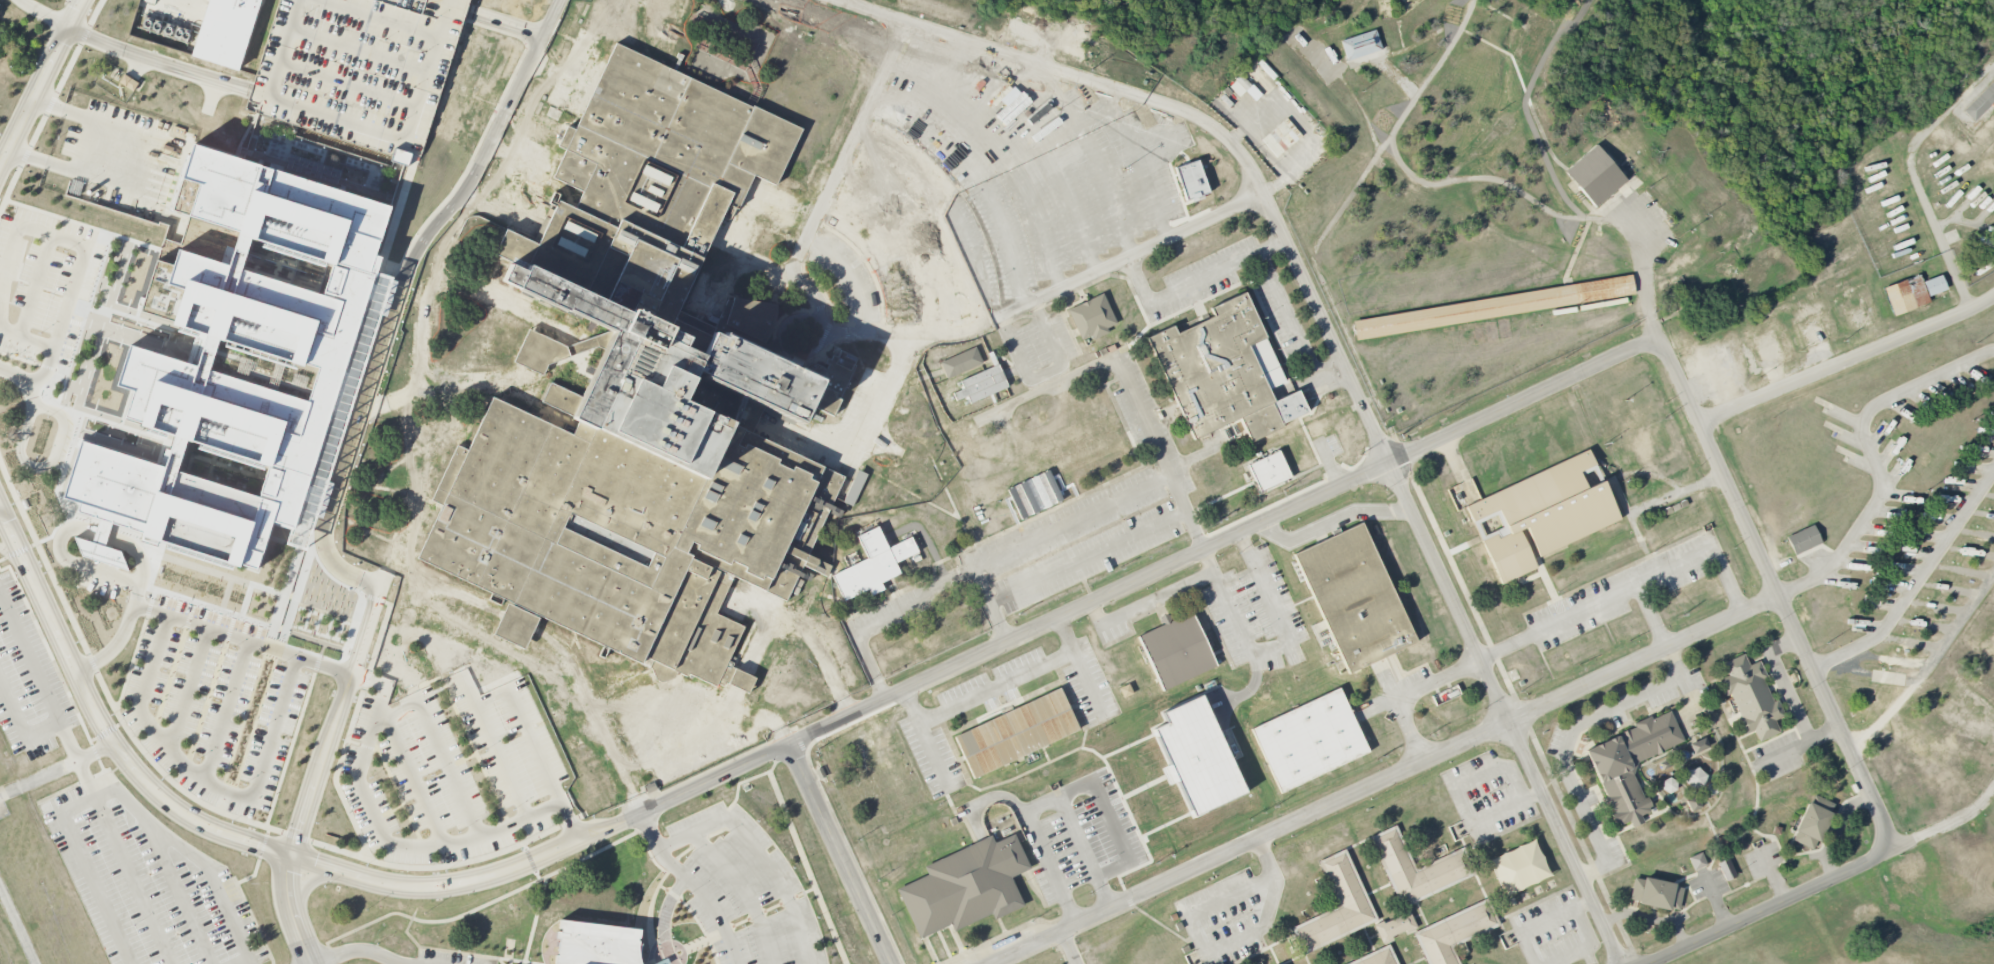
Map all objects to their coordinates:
building: (1028, 9)
road: (504, 21)
building: (225, 30)
building: (1018, 31)
road: (640, 32)
building: (1361, 44)
road: (131, 52)
building: (358, 68)
parking garage: (358, 68)
road: (40, 79)
building: (1241, 87)
road: (512, 99)
building: (1980, 101)
building: (1281, 137)
road: (1039, 139)
road: (87, 150)
road: (1093, 150)
road: (1138, 150)
road: (1003, 152)
parking lot: (122, 154)
road: (516, 158)
parking lot: (526, 163)
building: (1595, 174)
road: (977, 177)
road: (1916, 177)
building: (1192, 179)
parking lot: (988, 188)
road: (948, 207)
parking lot: (519, 209)
road: (497, 211)
road: (1329, 221)
road: (31, 231)
road: (917, 233)
road: (1273, 245)
road: (883, 254)
road: (1259, 254)
road: (849, 275)
road: (444, 279)
parking lot: (43, 283)
road: (35, 286)
road: (1647, 289)
building: (1912, 293)
parking lot: (1179, 296)
building: (1493, 306)
building: (1092, 316)
road: (886, 332)
parking lot: (1040, 349)
building: (539, 351)
road: (535, 352)
road: (1342, 358)
road: (1105, 359)
road: (1848, 360)
building: (237, 361)
building: (961, 362)
road: (1045, 371)
building: (1224, 371)
road: (29, 379)
road: (477, 380)
building: (982, 384)
road: (365, 395)
parking lot: (858, 396)
road: (393, 400)
building: (649, 400)
road: (861, 430)
building: (1079, 447)
road: (1878, 460)
building: (1211, 461)
road: (1330, 465)
road: (36, 466)
building: (1269, 470)
building: (855, 488)
road: (1677, 494)
building: (1544, 513)
parking lot: (1090, 515)
road: (1071, 520)
road: (1335, 520)
building: (1803, 540)
road: (119, 542)
road: (1087, 557)
road: (1207, 563)
road: (1148, 579)
parking lot: (97, 584)
road: (1775, 588)
road: (1916, 590)
parking lot: (1622, 591)
road: (1627, 591)
building: (1354, 596)
parking lot: (879, 611)
parking lot: (1256, 614)
road: (1653, 616)
road: (1232, 617)
road: (883, 619)
road: (787, 623)
road: (365, 631)
parking lot: (1114, 632)
road: (1063, 635)
road: (241, 640)
road: (555, 641)
building: (1176, 650)
road: (30, 658)
road: (1025, 670)
building: (663, 672)
parking lot: (1417, 676)
building: (739, 679)
parking lot: (28, 680)
parking lot: (1697, 681)
parking lot: (1089, 685)
road: (1418, 688)
road: (189, 689)
building: (1125, 690)
building: (1750, 697)
parking lot: (1663, 698)
parking lot: (214, 703)
road: (1794, 706)
building: (1707, 709)
road: (226, 711)
road: (1403, 712)
road: (729, 717)
parking lot: (1619, 719)
road: (673, 721)
road: (21, 722)
road: (105, 723)
parking lot: (917, 724)
parking lot: (678, 729)
road: (489, 732)
building: (1016, 732)
road: (1823, 734)
road: (924, 736)
building: (1309, 739)
parking lot: (1555, 739)
road: (1569, 739)
building: (1698, 745)
road: (437, 746)
parking lot: (447, 753)
parking lot: (1779, 756)
building: (1197, 757)
road: (78, 759)
road: (658, 759)
road: (319, 763)
building: (1630, 764)
road: (410, 776)
road: (85, 778)
road: (1382, 778)
building: (1695, 778)
road: (204, 779)
road: (1458, 784)
road: (117, 792)
parking lot: (1489, 794)
parking lot: (1591, 797)
road: (559, 804)
road: (1040, 804)
building: (1694, 804)
building: (1812, 821)
road: (569, 822)
road: (1943, 825)
parking lot: (1062, 843)
parking lot: (1616, 852)
road: (758, 854)
road: (843, 855)
building: (1697, 861)
building: (1519, 867)
building: (1417, 868)
building: (1726, 869)
road: (132, 880)
road: (469, 880)
parking lot: (147, 883)
road: (695, 884)
building: (965, 886)
parking lot: (741, 888)
road: (743, 892)
building: (1655, 893)
road: (179, 897)
road: (1584, 904)
building: (1337, 906)
road: (1772, 908)
road: (291, 909)
parking lot: (1231, 915)
road: (666, 917)
building: (1395, 926)
road: (1533, 928)
parking lot: (1556, 931)
building: (1454, 932)
building: (595, 943)
road: (1592, 945)
road: (1065, 947)
road: (1042, 948)
road: (363, 951)
road: (1213, 951)
building: (1378, 957)
parking lot: (447, 958)
parking lot: (1074, 961)
road: (251, 962)

